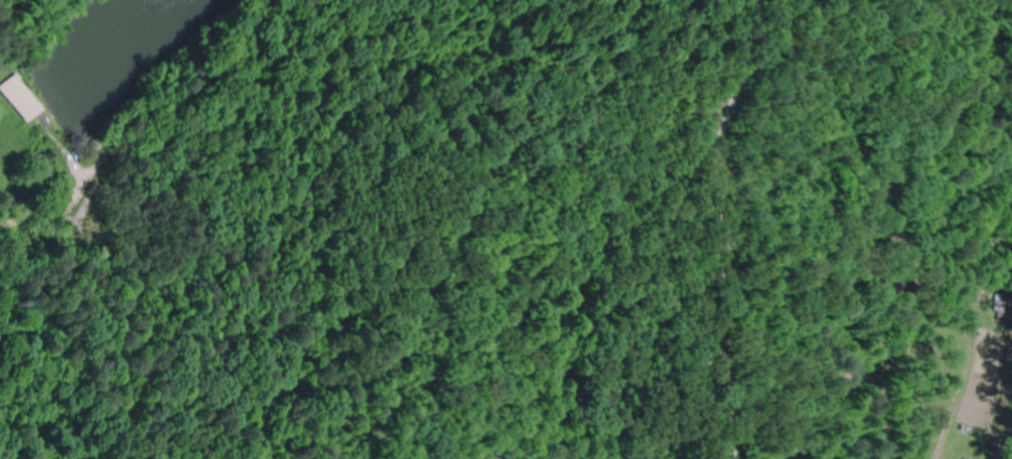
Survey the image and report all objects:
building: (17, 101)
road: (469, 400)

